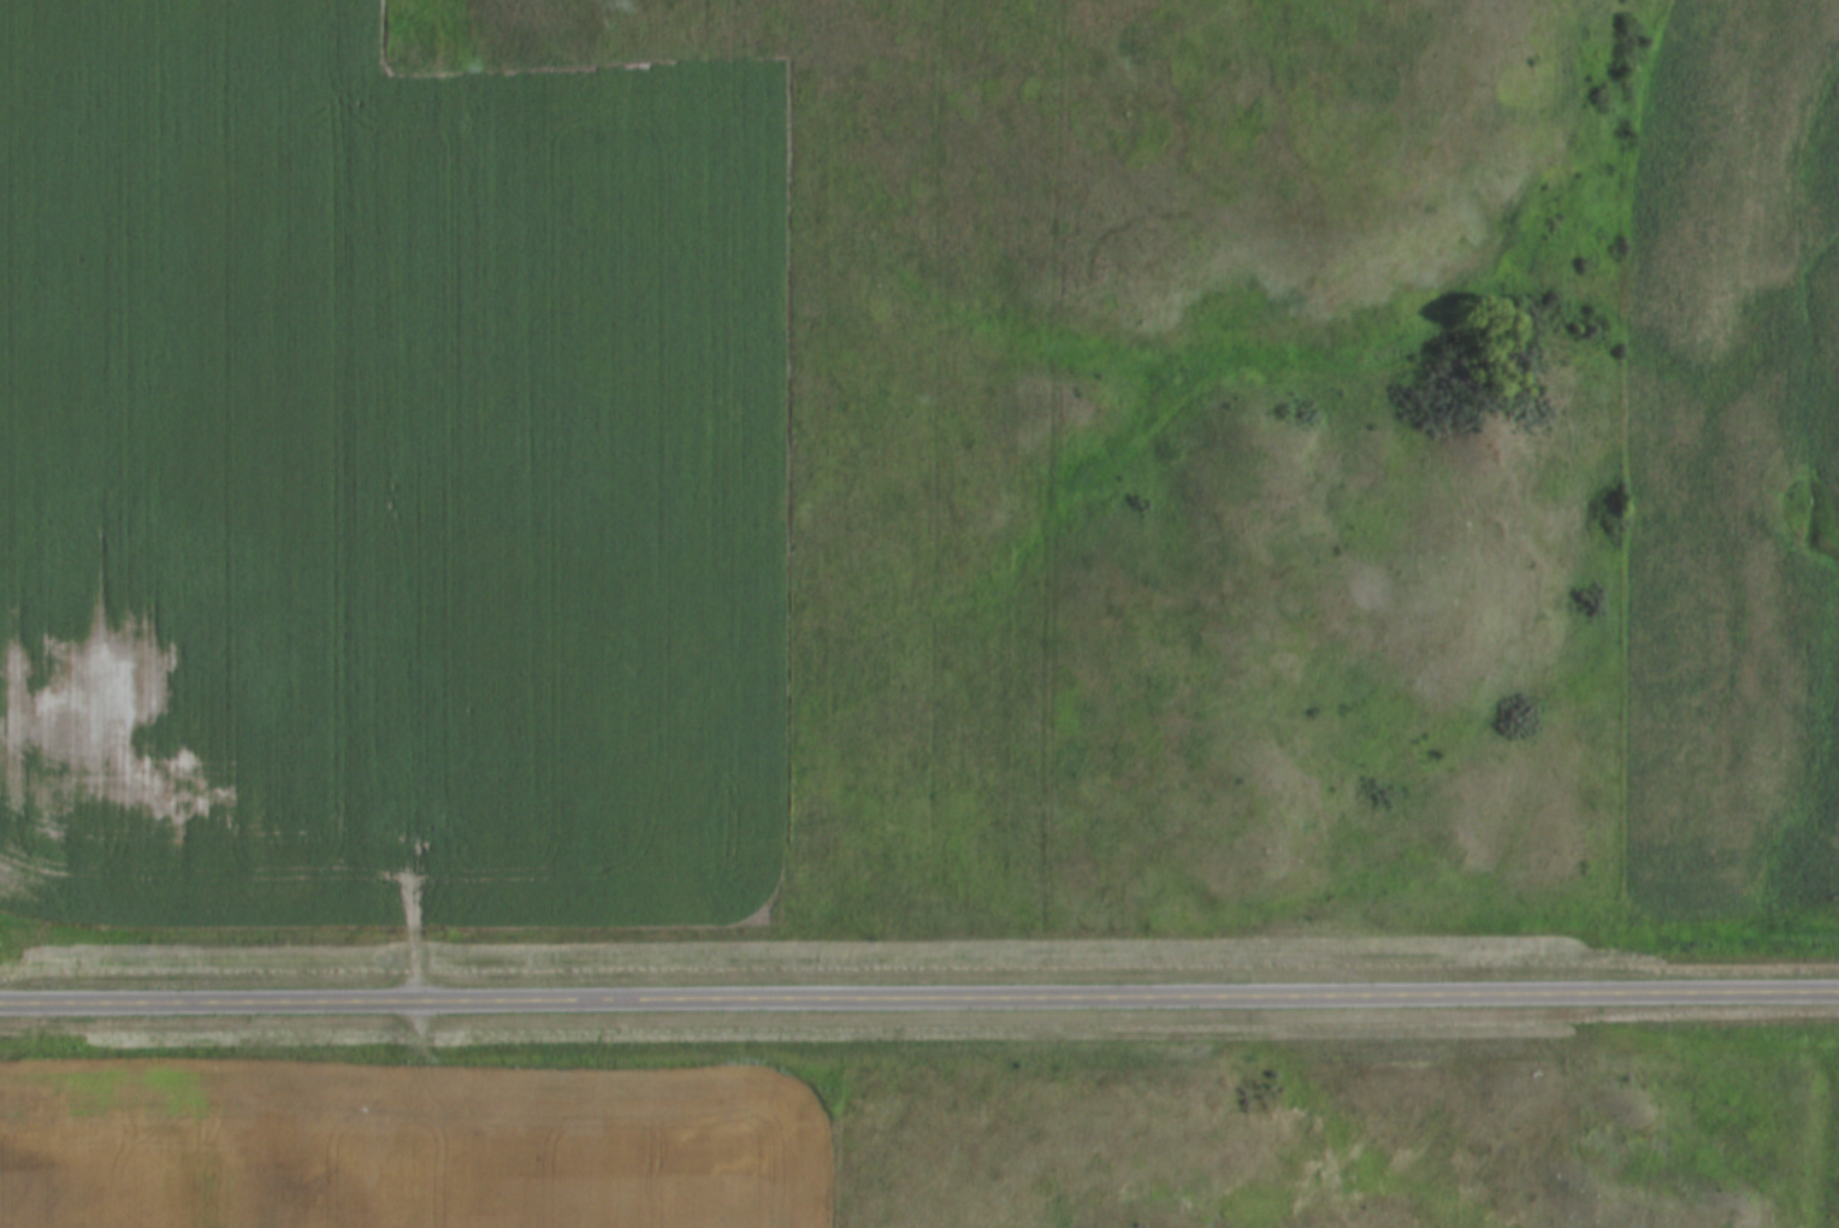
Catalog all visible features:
road: (919, 992)

